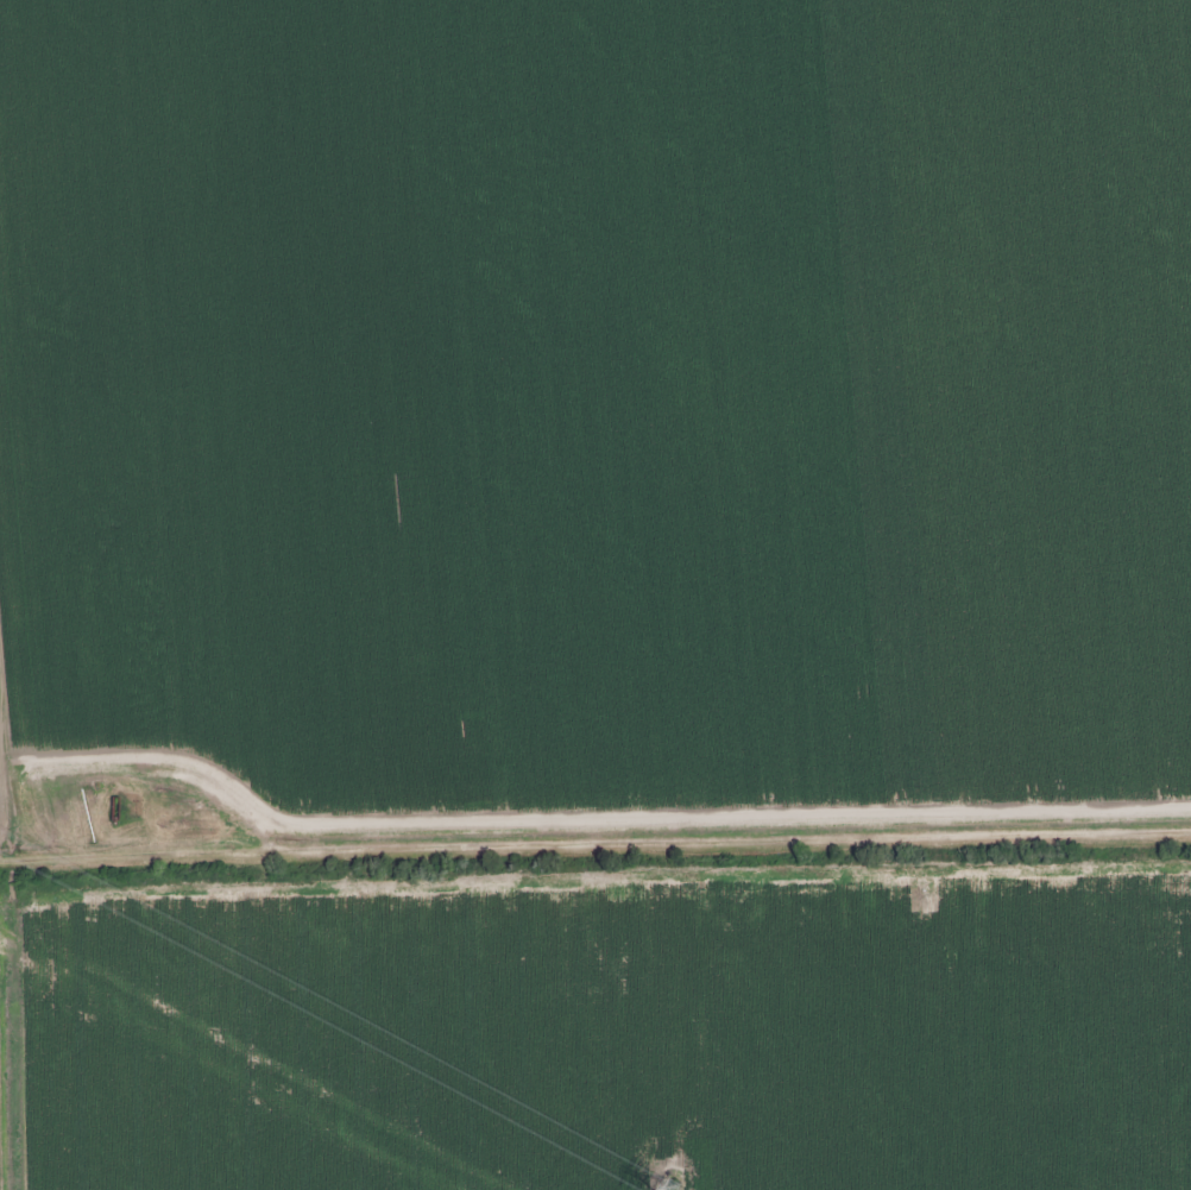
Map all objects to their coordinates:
road: (594, 825)
power tower: (666, 1189)

